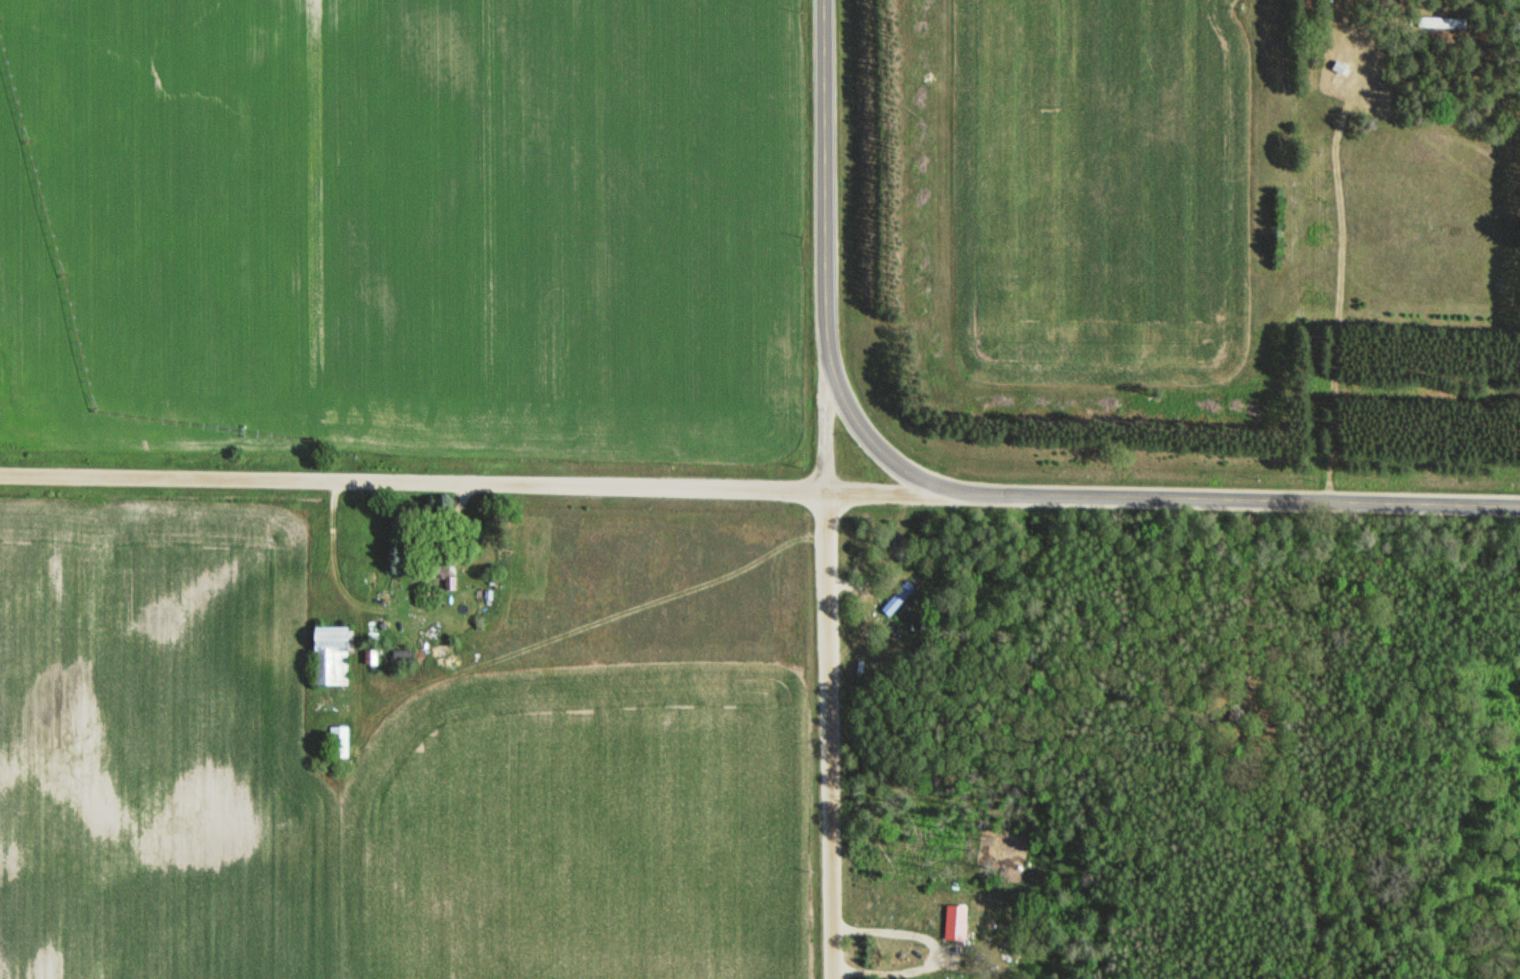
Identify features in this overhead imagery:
building: (1443, 21)
building: (1339, 66)
road: (826, 182)
road: (1337, 282)
road: (827, 427)
road: (870, 443)
road: (472, 483)
road: (1232, 499)
building: (445, 568)
building: (903, 594)
building: (331, 654)
building: (403, 655)
building: (1240, 713)
road: (826, 734)
building: (339, 740)
building: (956, 921)

